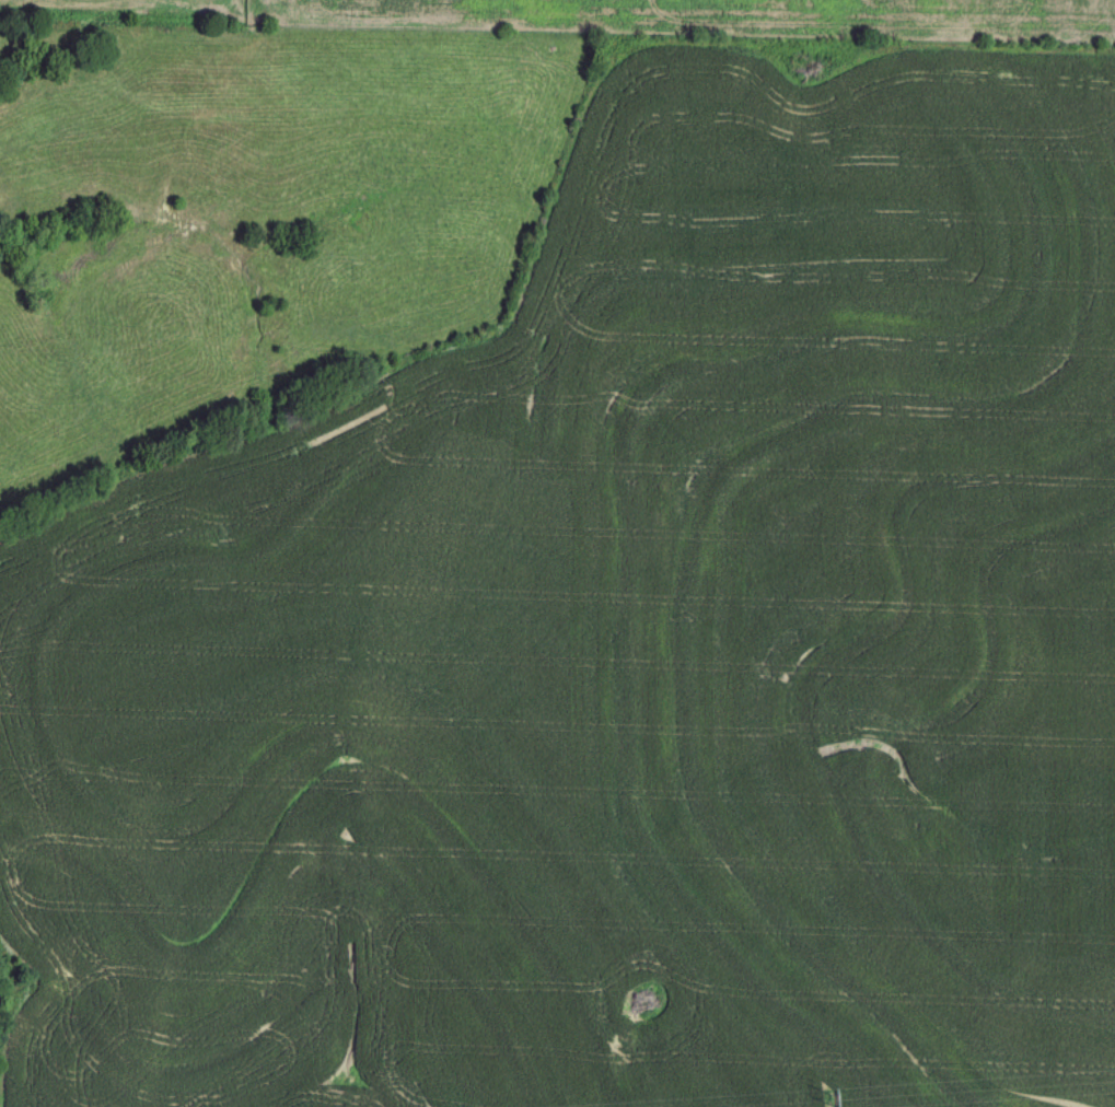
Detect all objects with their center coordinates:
power tower: (833, 1099)

